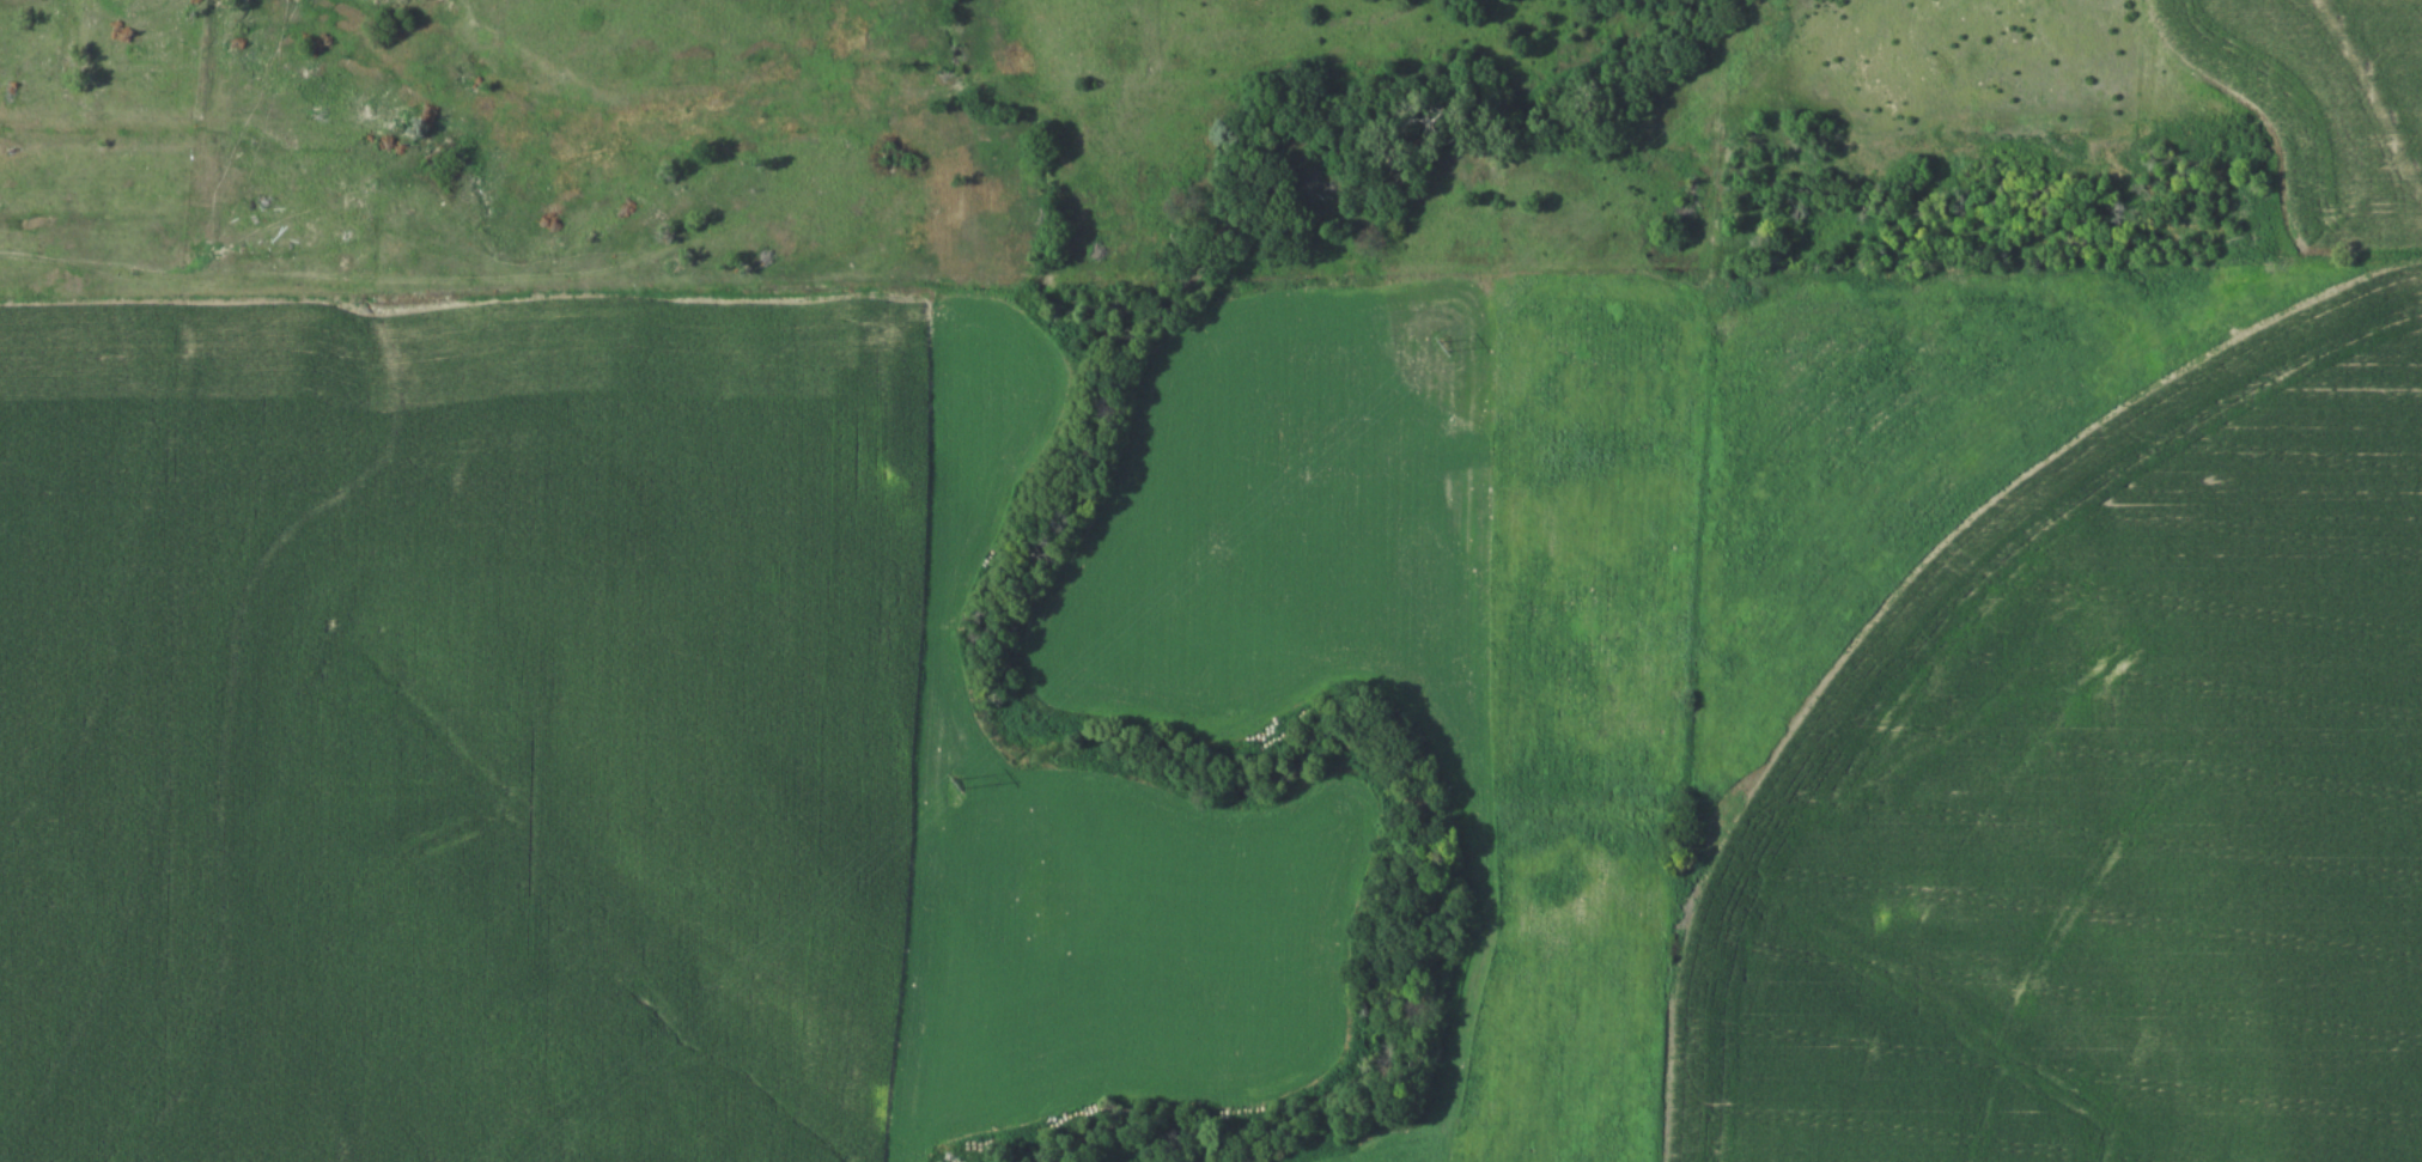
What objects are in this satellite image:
power tower: (1446, 349)
power tower: (957, 784)

